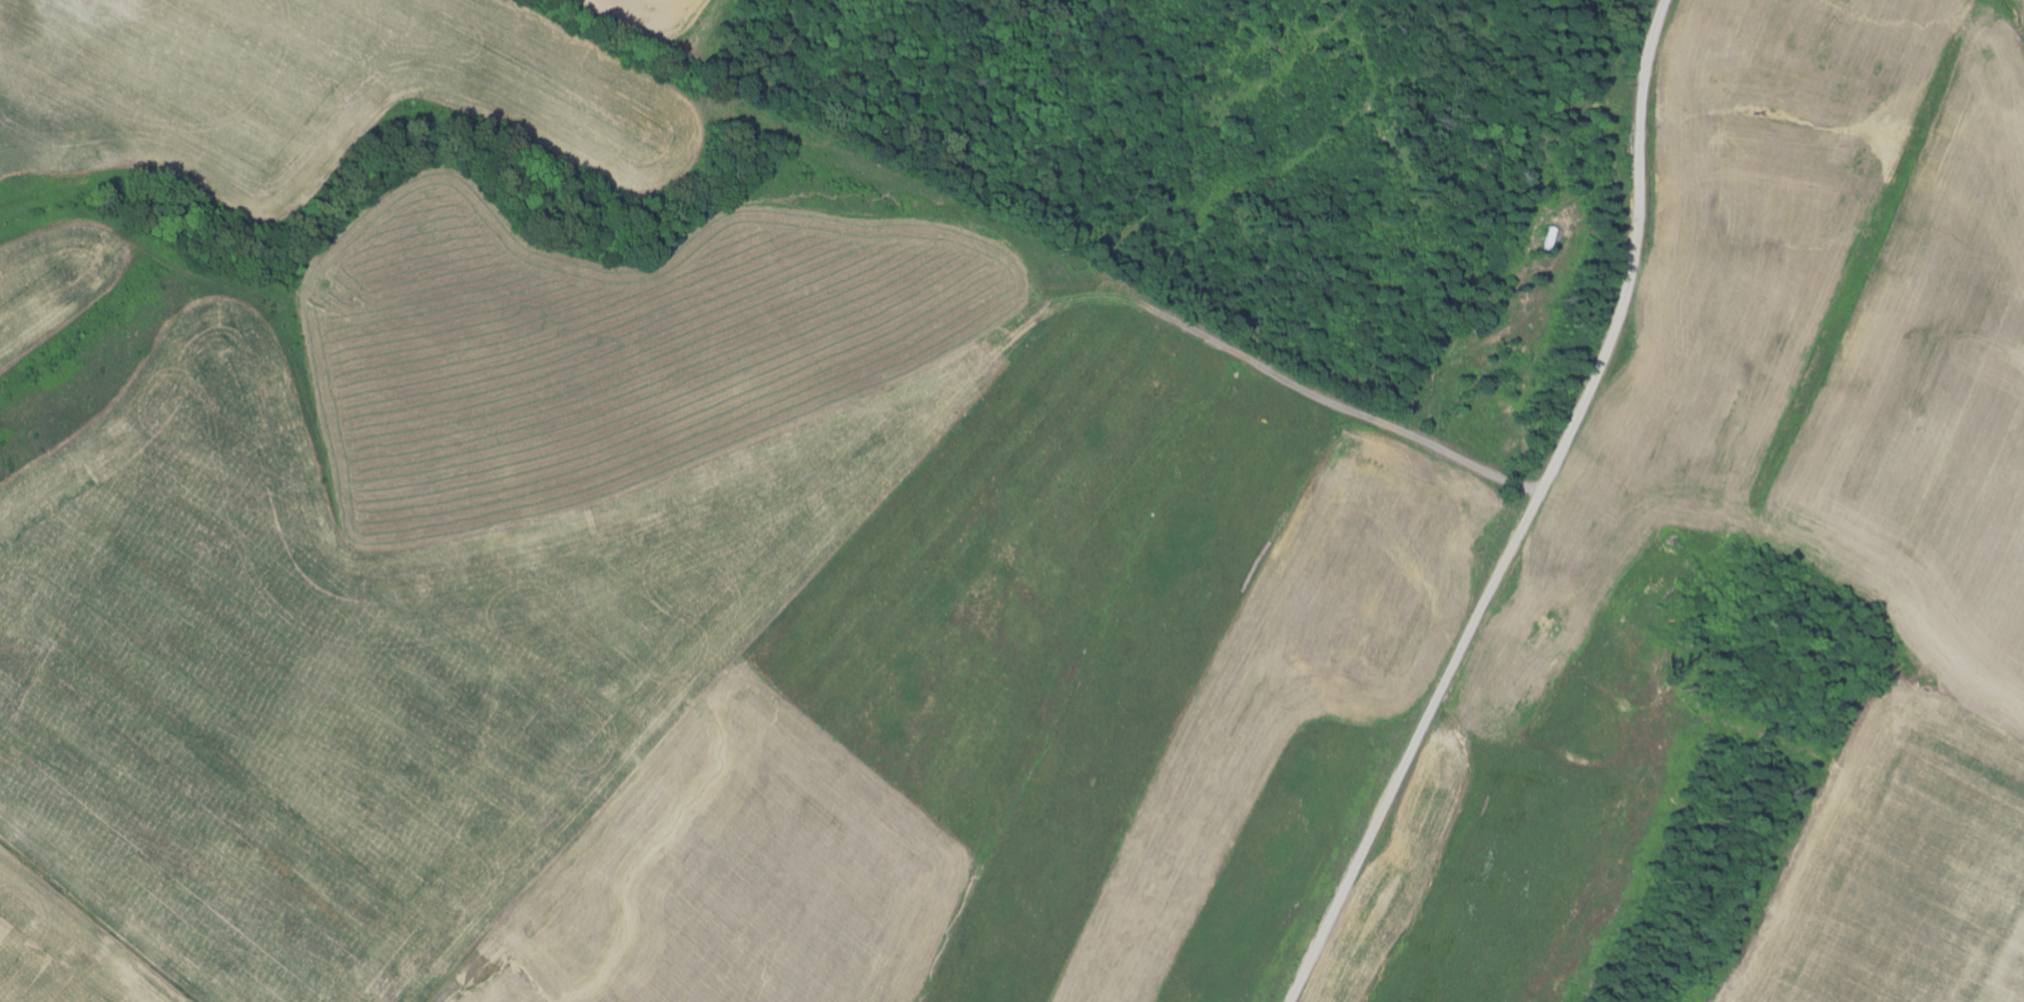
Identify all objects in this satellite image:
road: (1526, 513)
road: (1319, 989)

